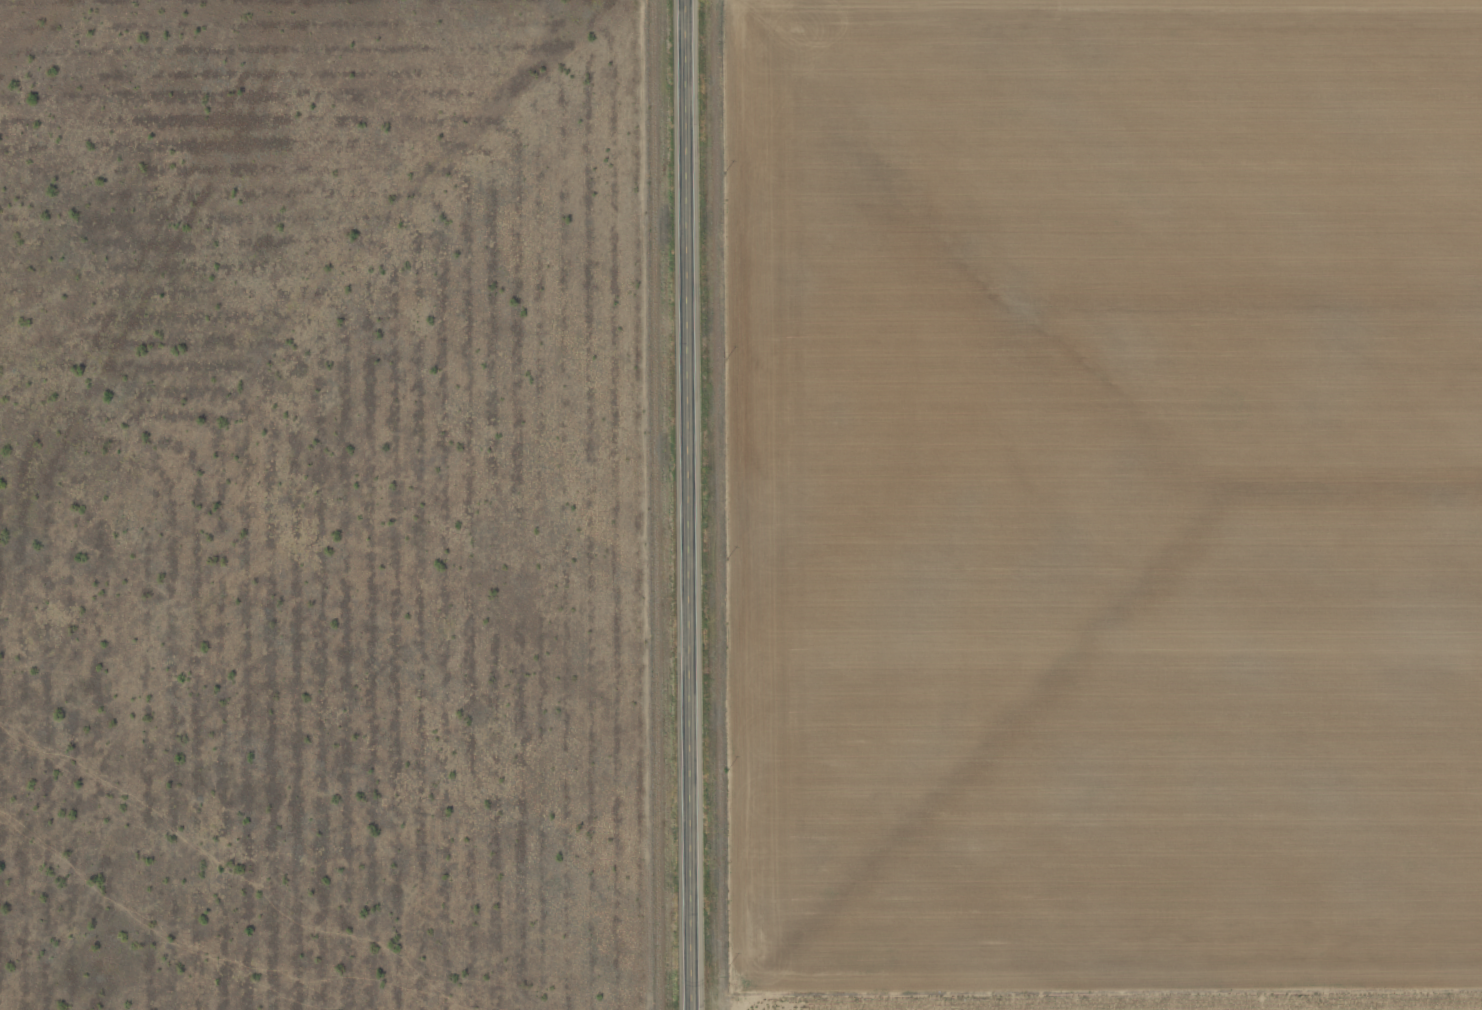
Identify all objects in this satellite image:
road: (120, 13)
road: (1232, 17)
road: (685, 505)

